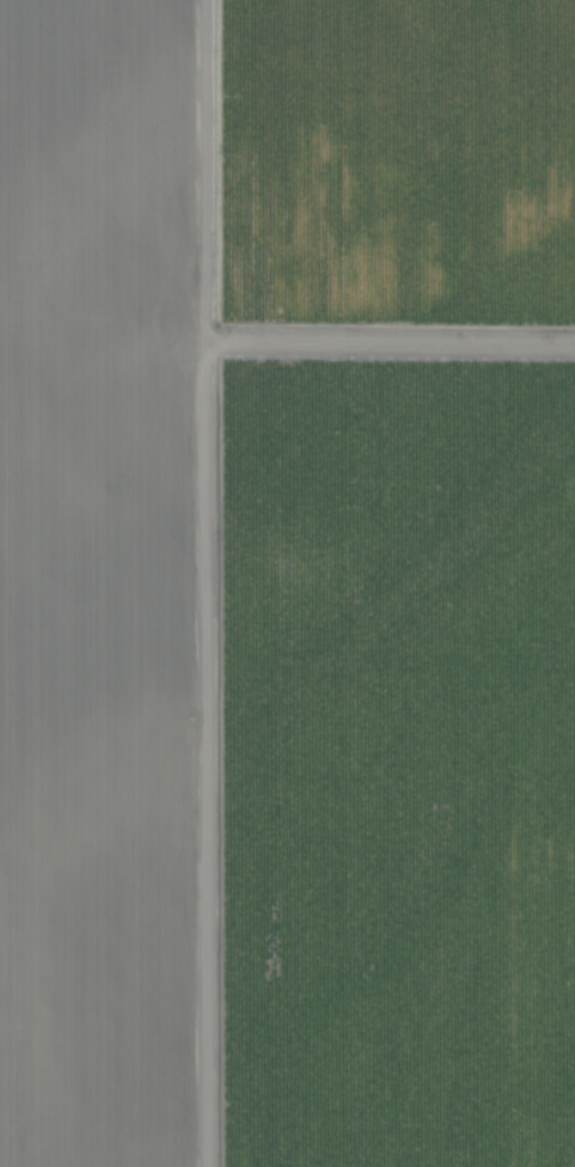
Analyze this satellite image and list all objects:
crop: (287, 583)

